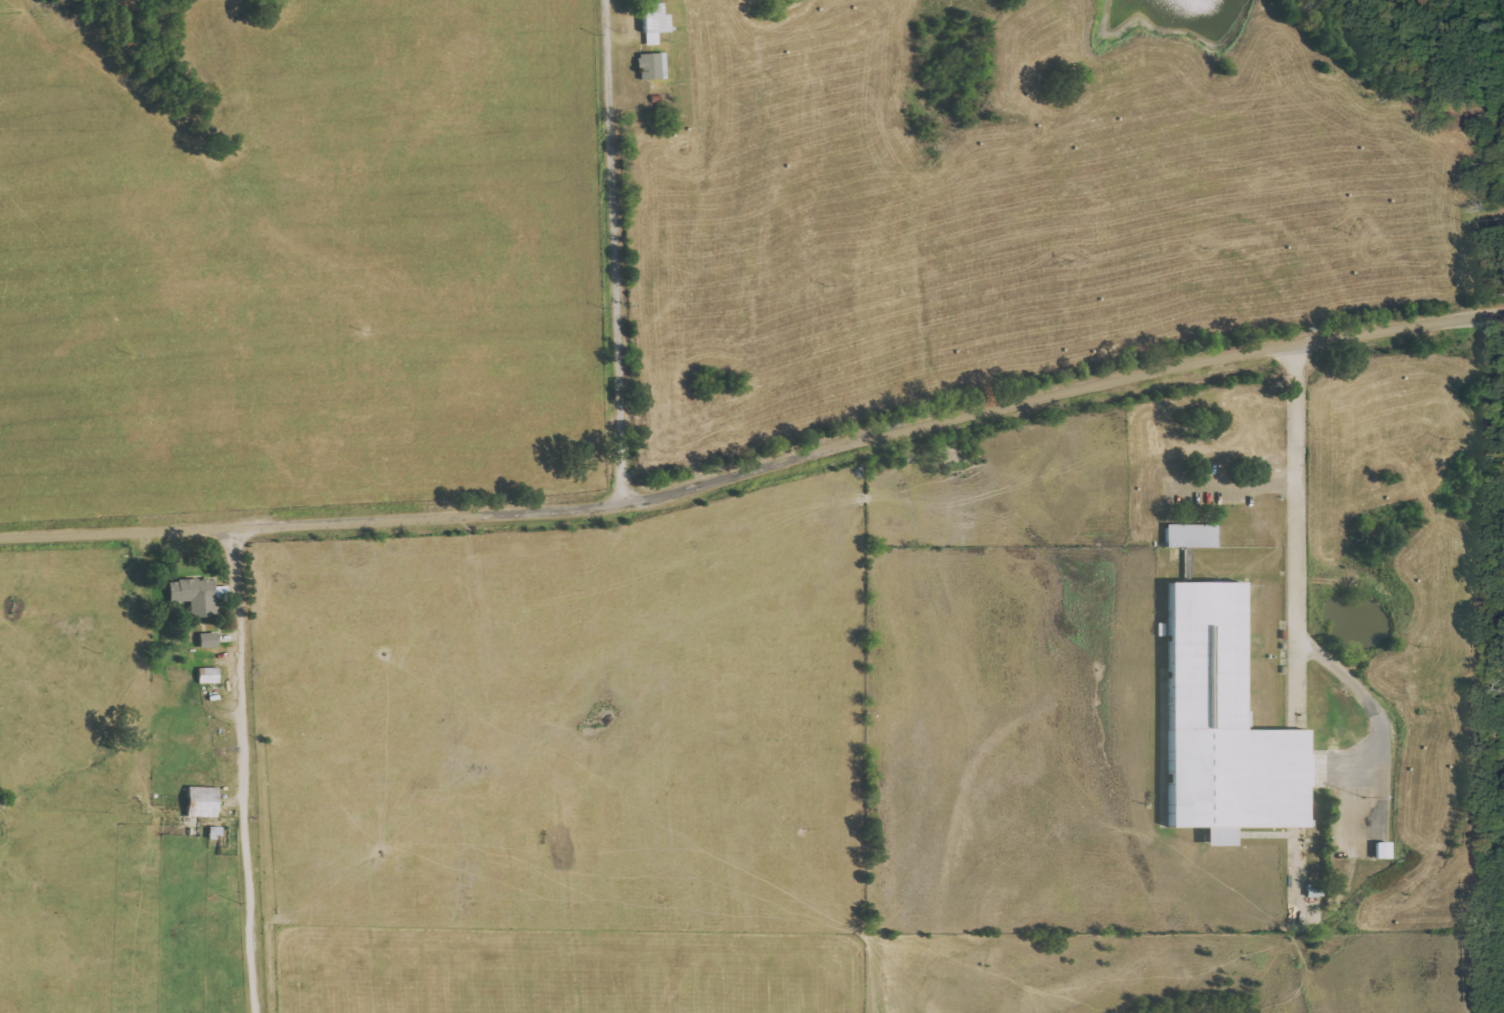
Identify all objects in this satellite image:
building: (654, 22)
building: (652, 66)
power tower: (1346, 234)
power tower: (1202, 247)
road: (615, 251)
power tower: (1066, 262)
power tower: (825, 286)
power tower: (636, 306)
power tower: (356, 332)
power tower: (129, 356)
road: (757, 470)
road: (1296, 525)
building: (1191, 535)
building: (196, 596)
building: (208, 640)
road: (1377, 712)
building: (1223, 726)
road: (241, 772)
building: (203, 802)
building: (219, 837)

